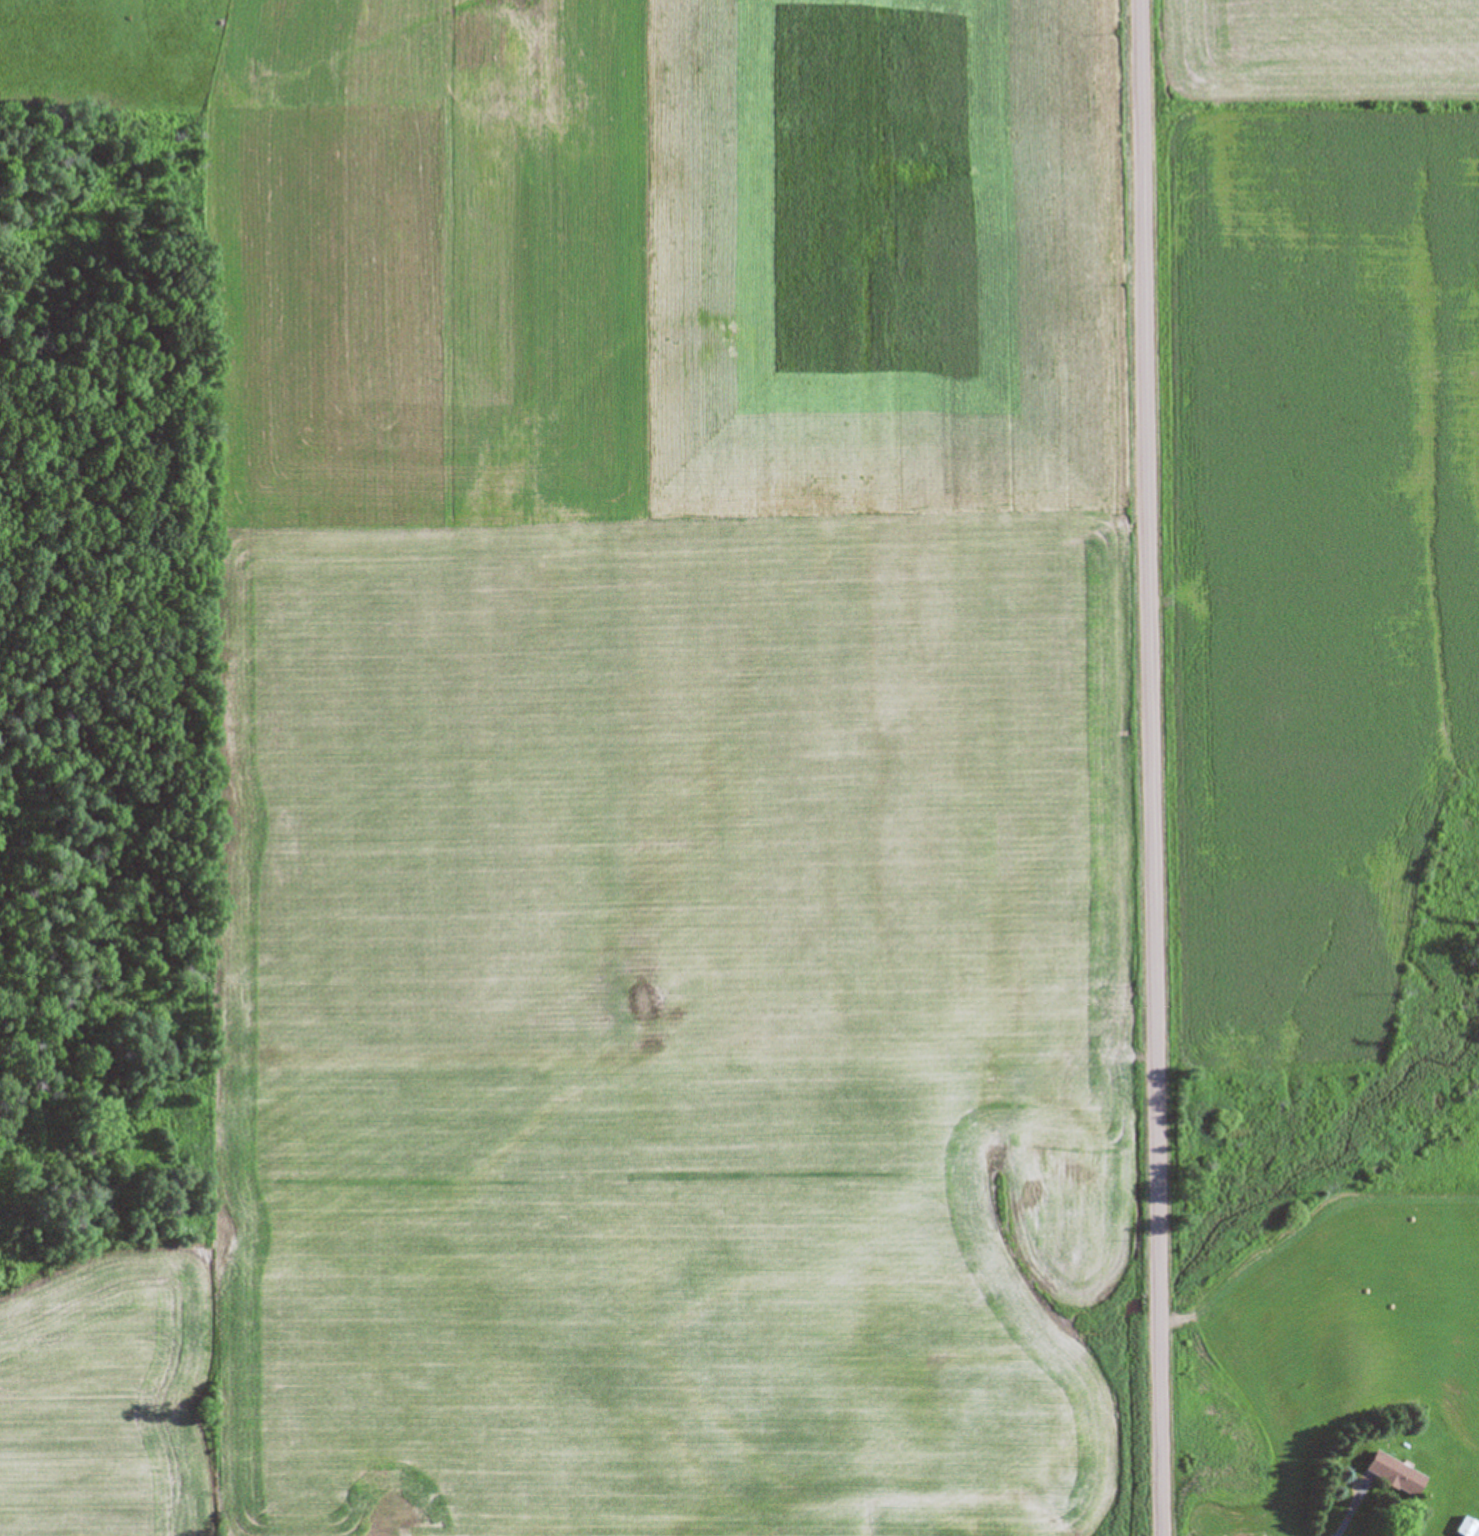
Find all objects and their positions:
road: (1138, 768)
building: (1392, 1476)
building: (1467, 1529)

